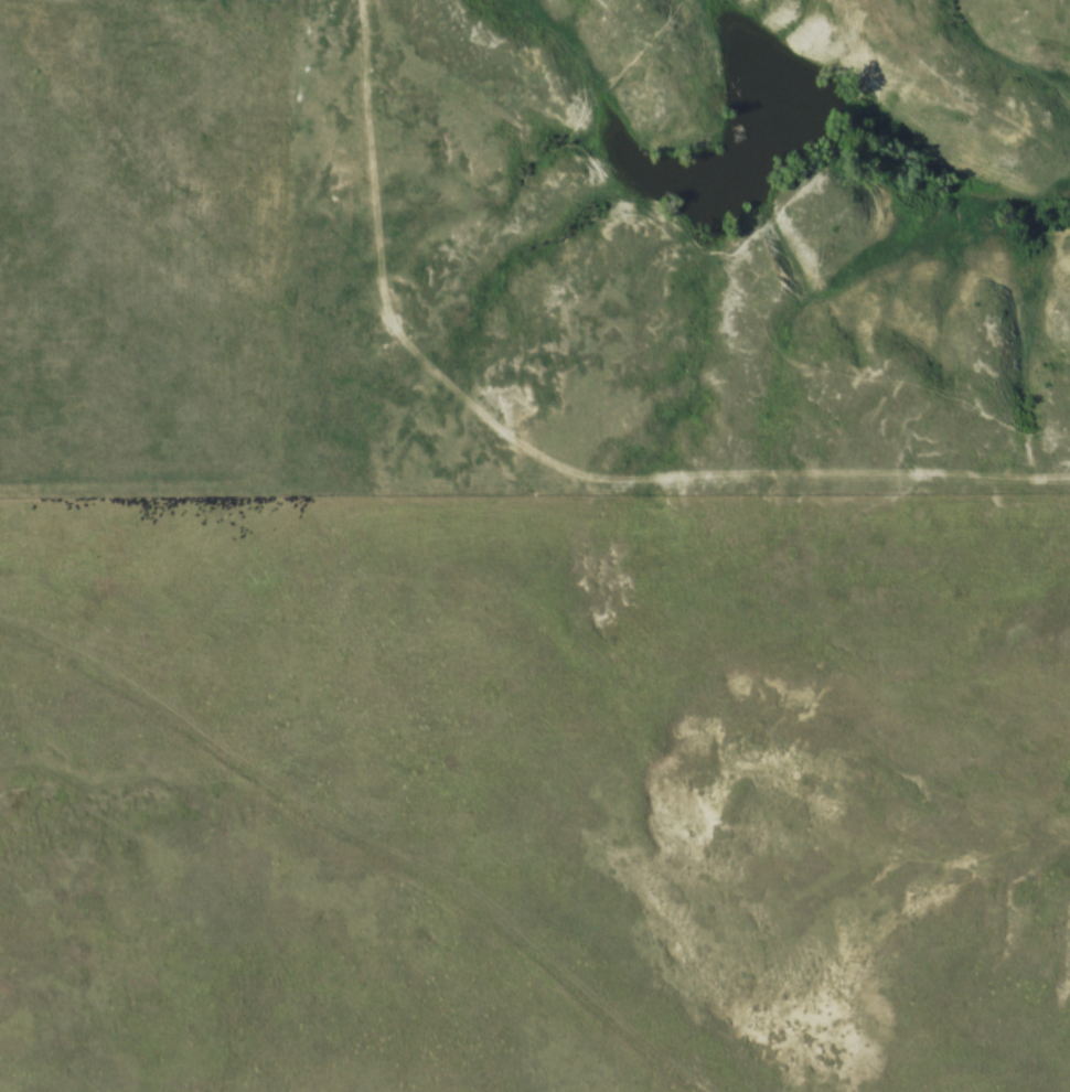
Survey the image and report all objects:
road: (404, 826)

